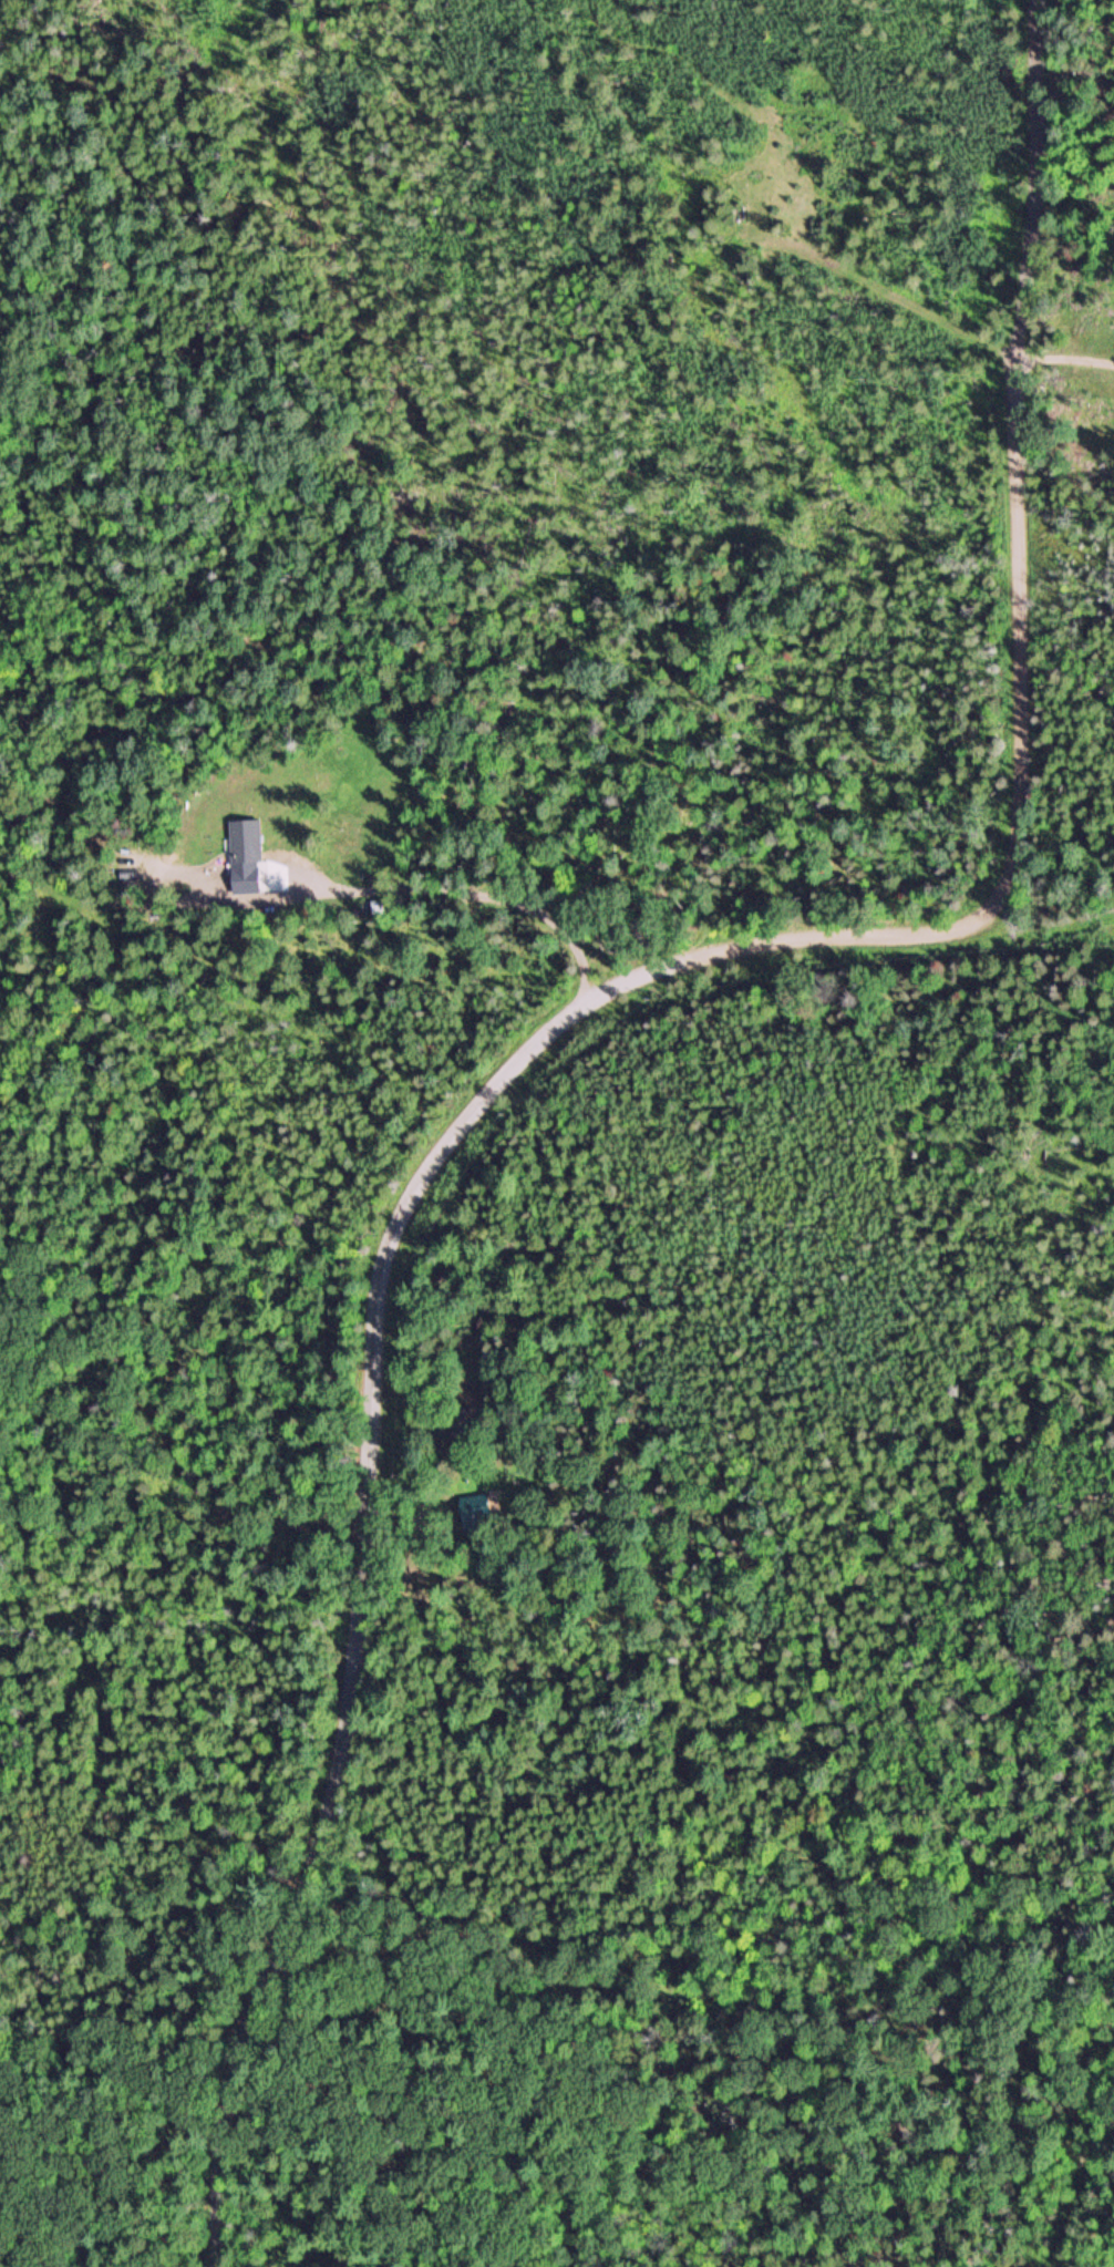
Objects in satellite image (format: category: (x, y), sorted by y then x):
road: (743, 255)
building: (244, 841)
building: (377, 907)
road: (586, 1006)
building: (461, 1423)
building: (474, 1507)

